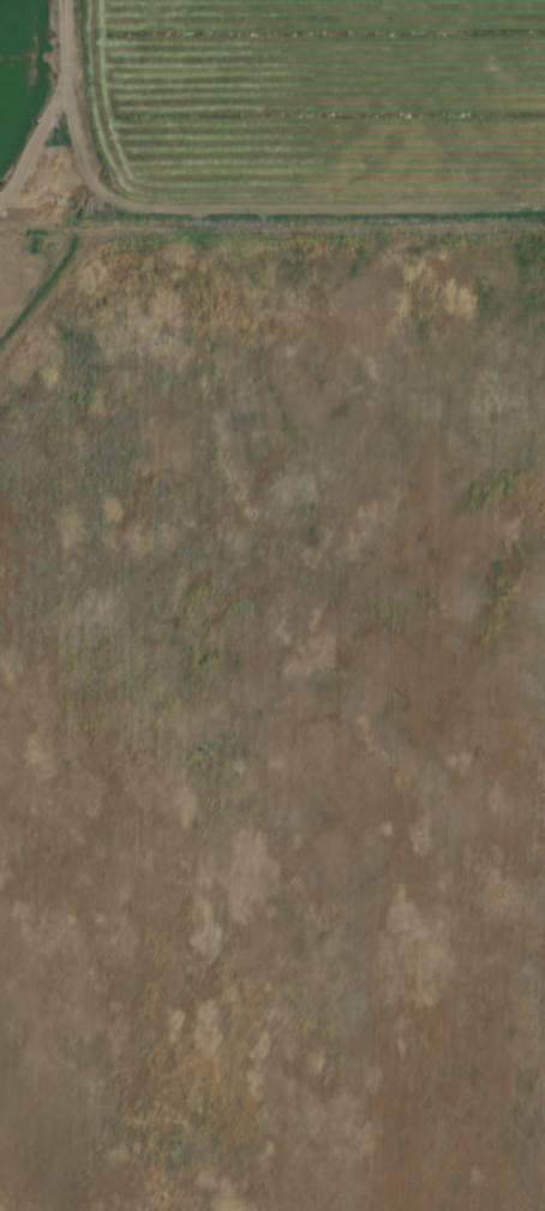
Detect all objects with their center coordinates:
crop: (23, 74)
crop: (331, 93)
road: (54, 165)
road: (74, 184)
road: (230, 210)
crop: (29, 270)
crop: (342, 700)
crop: (76, 800)

